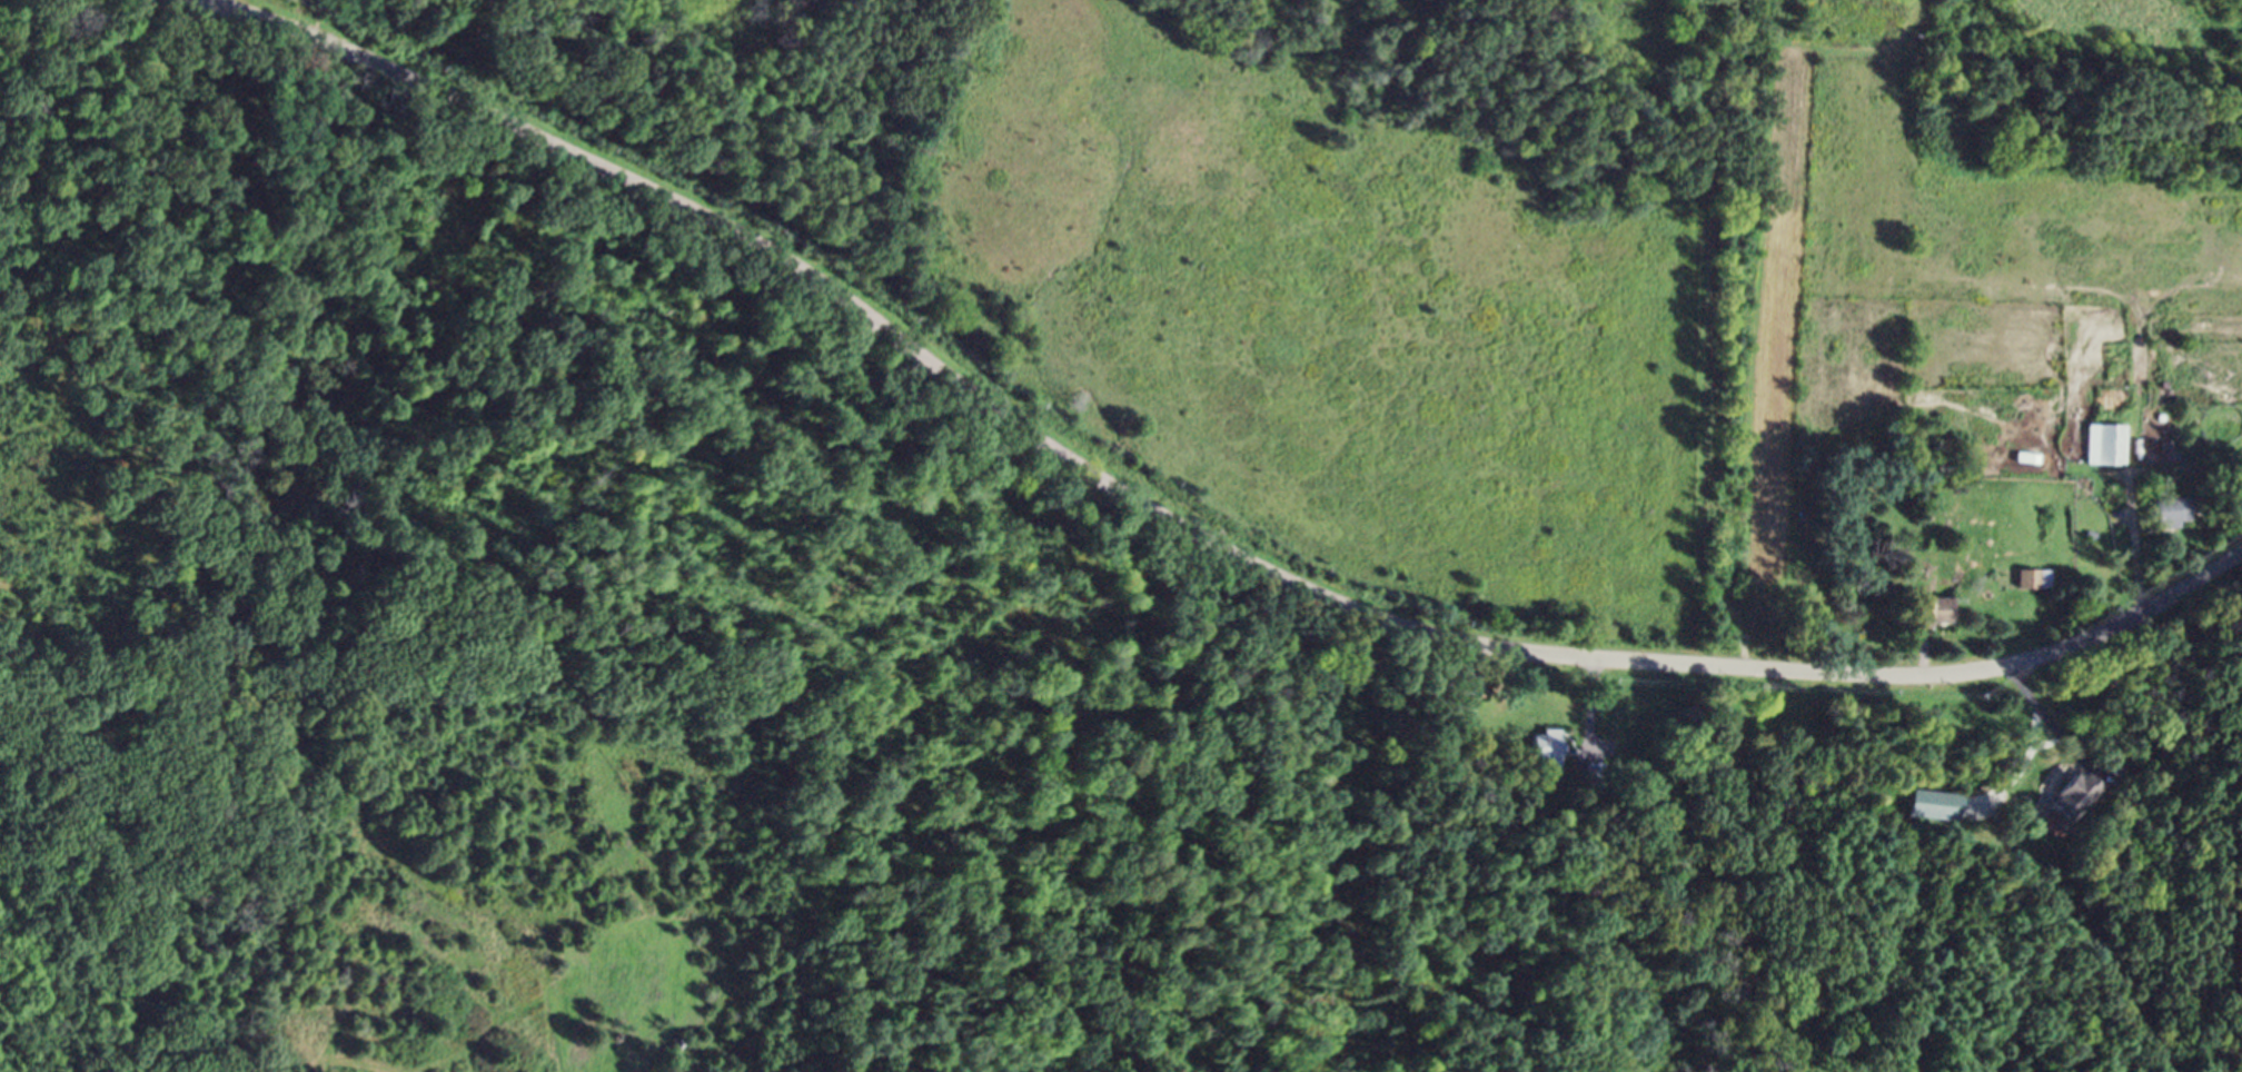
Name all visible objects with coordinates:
building: (2107, 449)
building: (2172, 516)
road: (1177, 524)
building: (2034, 584)
building: (1933, 617)
building: (1460, 694)
road: (2045, 722)
building: (1547, 754)
building: (2074, 802)
building: (1936, 810)
road: (93, 970)

